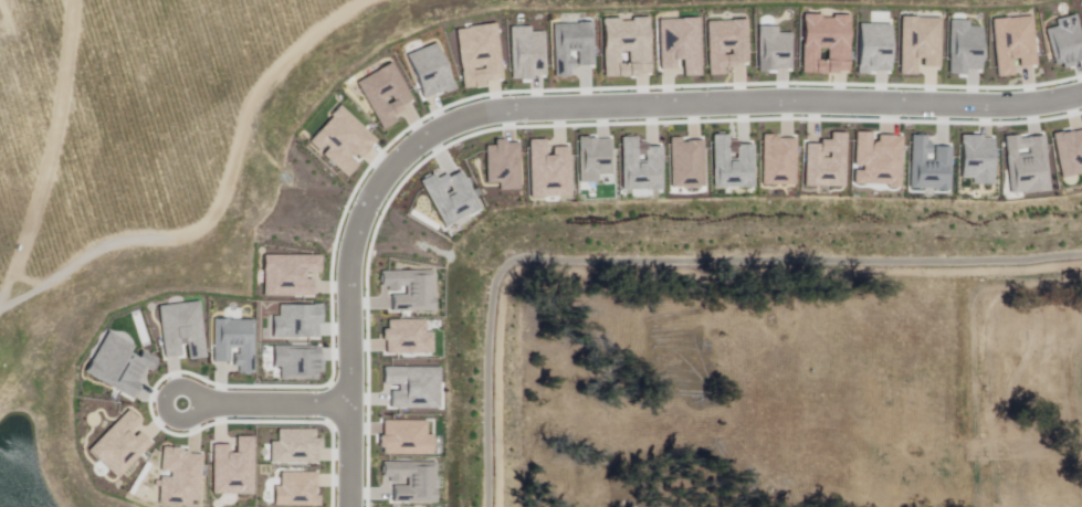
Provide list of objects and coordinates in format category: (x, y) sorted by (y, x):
building: (1064, 35)
building: (826, 44)
building: (682, 45)
building: (728, 45)
building: (921, 45)
building: (1015, 45)
building: (570, 47)
building: (627, 49)
building: (965, 49)
building: (775, 50)
building: (874, 50)
building: (528, 54)
building: (480, 57)
building: (430, 72)
building: (385, 95)
road: (559, 110)
building: (342, 140)
building: (1070, 156)
building: (593, 158)
building: (734, 161)
building: (778, 162)
building: (824, 162)
building: (687, 163)
building: (980, 165)
building: (879, 166)
building: (936, 166)
building: (641, 167)
building: (505, 168)
building: (1030, 169)
building: (551, 171)
building: (450, 199)
road: (1016, 268)
building: (290, 273)
road: (669, 273)
building: (411, 288)
building: (300, 320)
building: (181, 330)
building: (407, 336)
building: (234, 344)
building: (297, 361)
building: (118, 363)
building: (412, 387)
road: (269, 404)
building: (407, 439)
building: (119, 444)
building: (296, 446)
road: (501, 451)
building: (233, 467)
building: (180, 476)
building: (412, 479)
building: (296, 488)

